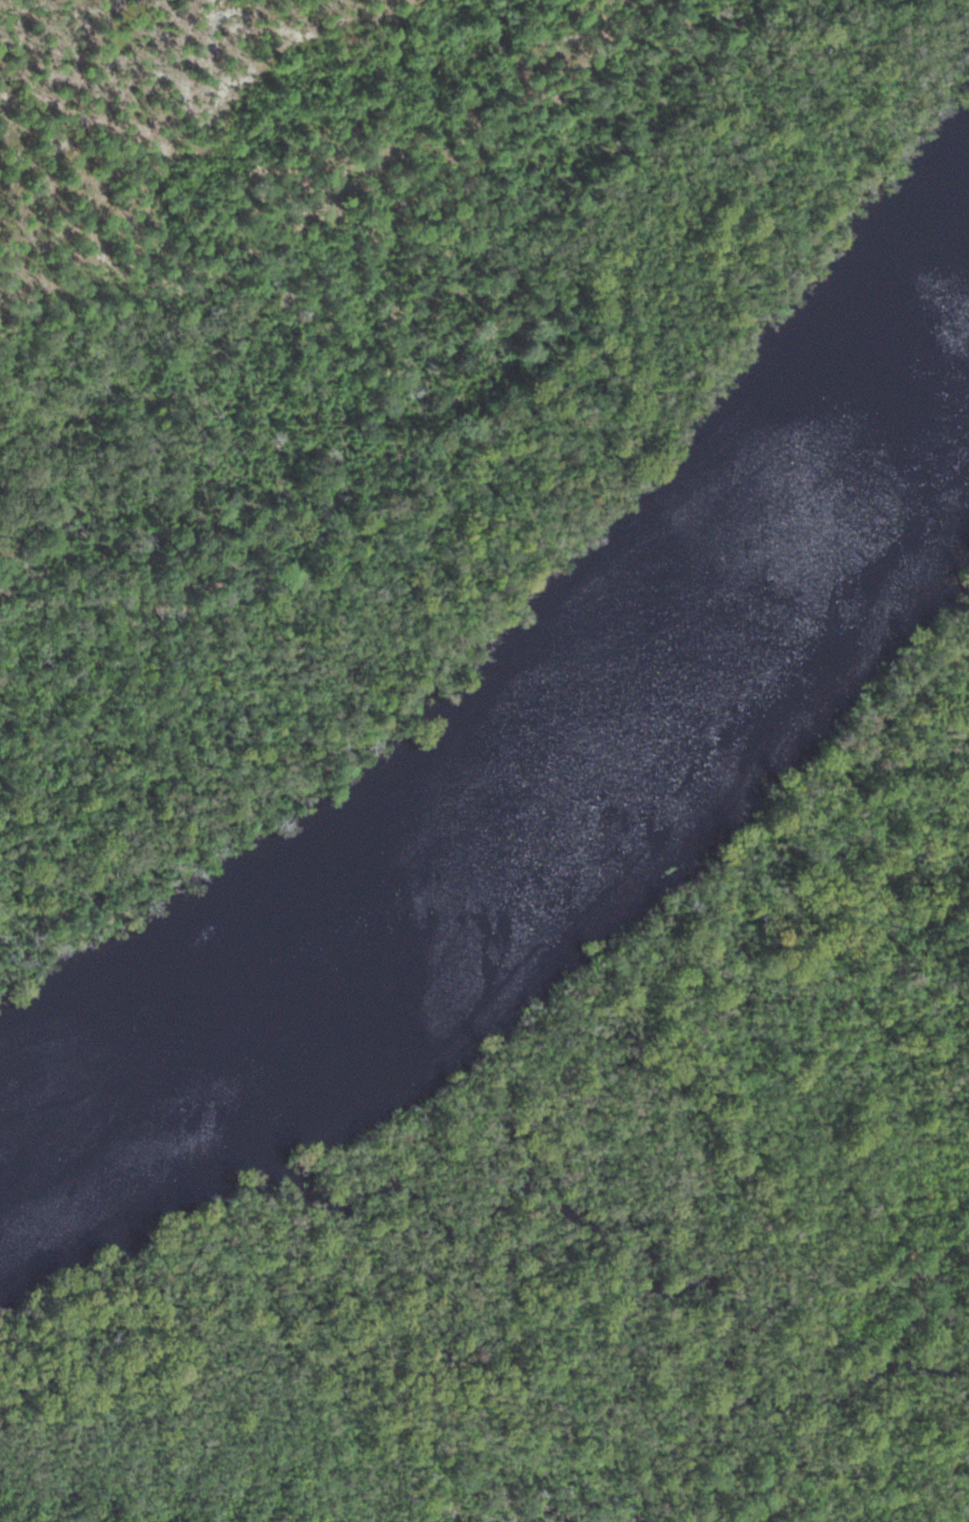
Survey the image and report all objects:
river: (627, 717)
river: (103, 1093)

